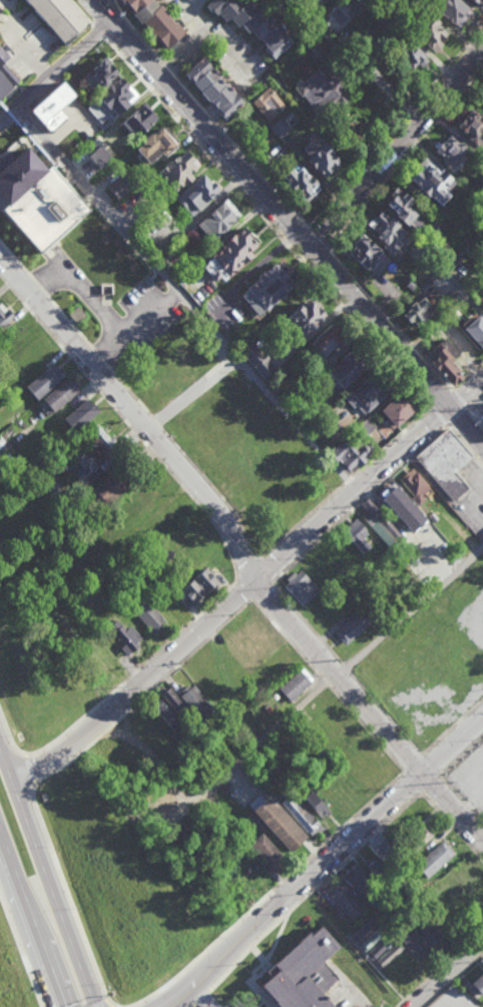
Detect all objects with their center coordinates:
building: (479, 1)
building: (355, 6)
road: (105, 9)
road: (83, 10)
building: (455, 11)
building: (59, 17)
road: (4, 20)
building: (154, 21)
building: (251, 23)
road: (97, 28)
road: (134, 30)
building: (433, 34)
road: (191, 42)
road: (28, 49)
building: (413, 56)
road: (163, 64)
road: (179, 64)
road: (56, 68)
building: (103, 72)
building: (5, 76)
building: (212, 88)
building: (320, 91)
building: (478, 96)
building: (112, 101)
building: (269, 104)
building: (51, 107)
building: (139, 120)
road: (395, 125)
building: (279, 128)
building: (465, 129)
road: (396, 145)
building: (153, 146)
road: (240, 150)
building: (442, 152)
building: (319, 155)
road: (404, 155)
building: (99, 156)
building: (178, 171)
building: (299, 182)
building: (424, 183)
building: (121, 186)
building: (196, 194)
building: (38, 200)
road: (273, 203)
building: (405, 210)
building: (218, 220)
road: (267, 221)
building: (388, 233)
road: (298, 236)
road: (319, 238)
building: (229, 255)
building: (367, 256)
road: (317, 257)
building: (270, 289)
road: (80, 290)
road: (188, 295)
building: (480, 301)
building: (417, 312)
building: (4, 316)
road: (386, 318)
building: (304, 321)
road: (134, 325)
building: (473, 332)
building: (329, 342)
building: (258, 361)
building: (443, 362)
building: (352, 367)
road: (466, 376)
building: (45, 381)
road: (467, 391)
road: (193, 392)
building: (371, 392)
building: (59, 396)
road: (133, 398)
road: (441, 398)
road: (459, 399)
road: (476, 401)
power tower: (111, 407)
building: (401, 409)
building: (81, 415)
road: (439, 415)
road: (458, 415)
road: (476, 416)
building: (481, 416)
road: (467, 422)
road: (126, 425)
road: (394, 441)
road: (465, 445)
building: (352, 456)
road: (173, 463)
building: (446, 464)
road: (351, 480)
building: (106, 489)
building: (416, 489)
building: (397, 502)
road: (359, 503)
road: (302, 521)
power tower: (215, 523)
building: (283, 523)
building: (381, 523)
building: (358, 538)
road: (246, 569)
road: (265, 569)
building: (200, 586)
building: (301, 589)
road: (242, 591)
road: (260, 591)
road: (237, 599)
road: (408, 612)
building: (147, 615)
road: (305, 620)
building: (354, 628)
building: (125, 636)
road: (153, 656)
power tower: (337, 661)
road: (346, 667)
road: (169, 672)
building: (296, 684)
road: (326, 685)
building: (195, 701)
building: (169, 709)
road: (386, 713)
road: (268, 733)
road: (25, 752)
road: (462, 756)
road: (409, 757)
road: (431, 763)
road: (413, 781)
power tower: (444, 784)
road: (462, 799)
building: (316, 804)
building: (301, 814)
building: (279, 824)
road: (452, 828)
building: (418, 834)
building: (379, 848)
building: (267, 851)
building: (434, 859)
road: (322, 863)
building: (375, 868)
road: (293, 872)
road: (332, 874)
road: (46, 875)
building: (357, 880)
road: (70, 901)
building: (346, 902)
road: (31, 919)
building: (369, 941)
building: (421, 941)
building: (379, 949)
road: (20, 951)
building: (388, 955)
road: (381, 972)
building: (302, 974)
road: (446, 976)
road: (216, 981)
road: (452, 981)
building: (478, 984)
road: (201, 997)
parking lot: (451, 999)
road: (461, 1003)
parking lot: (238, 1006)

